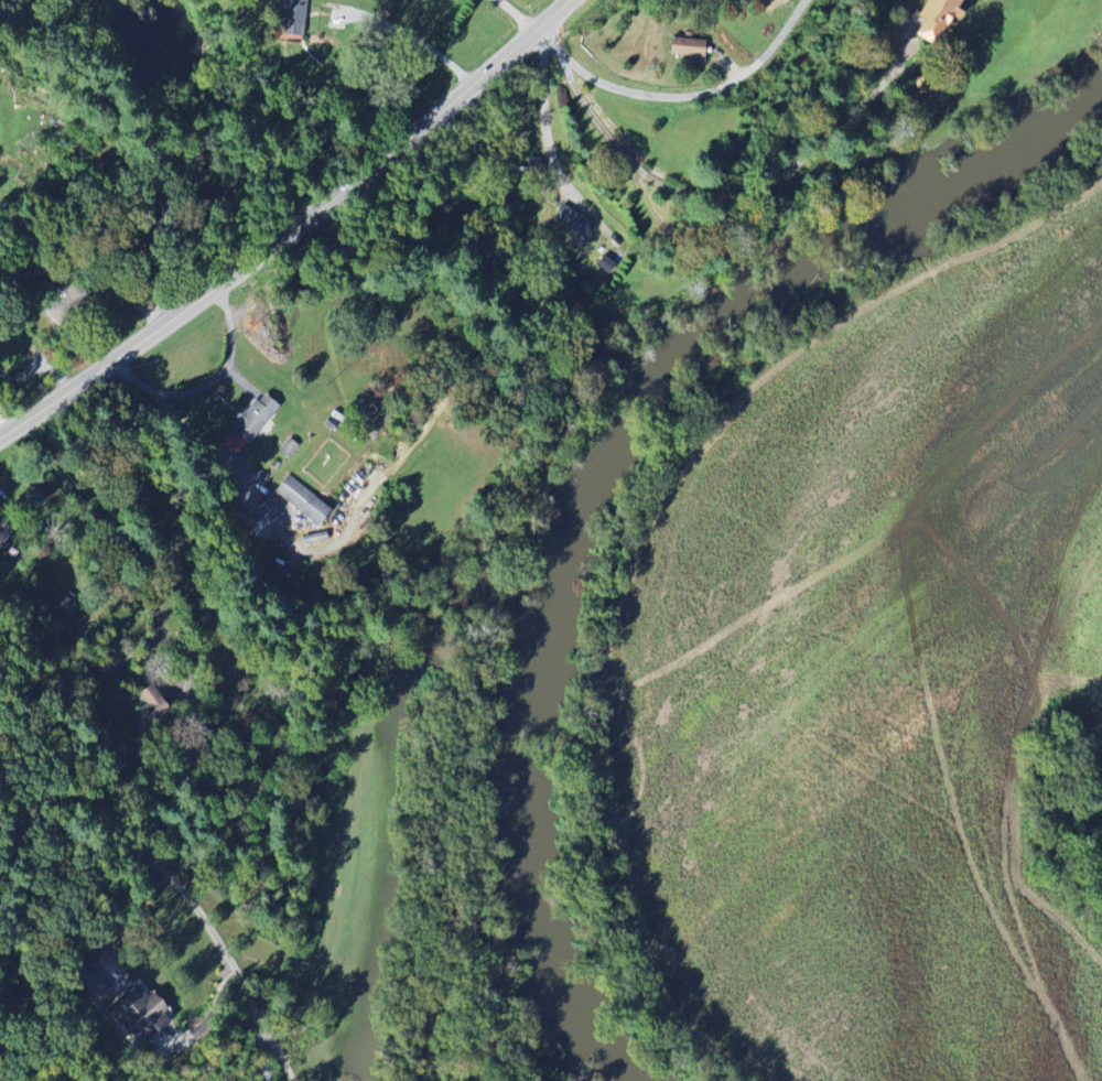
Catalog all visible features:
road: (519, 14)
building: (288, 18)
building: (936, 19)
road: (402, 32)
building: (680, 52)
road: (681, 97)
road: (545, 134)
road: (608, 134)
building: (570, 223)
road: (293, 229)
river: (860, 229)
road: (207, 382)
building: (305, 500)
river: (522, 745)
road: (149, 848)
road: (315, 932)
building: (88, 983)
road: (367, 1006)
building: (138, 1007)
road: (262, 1045)

